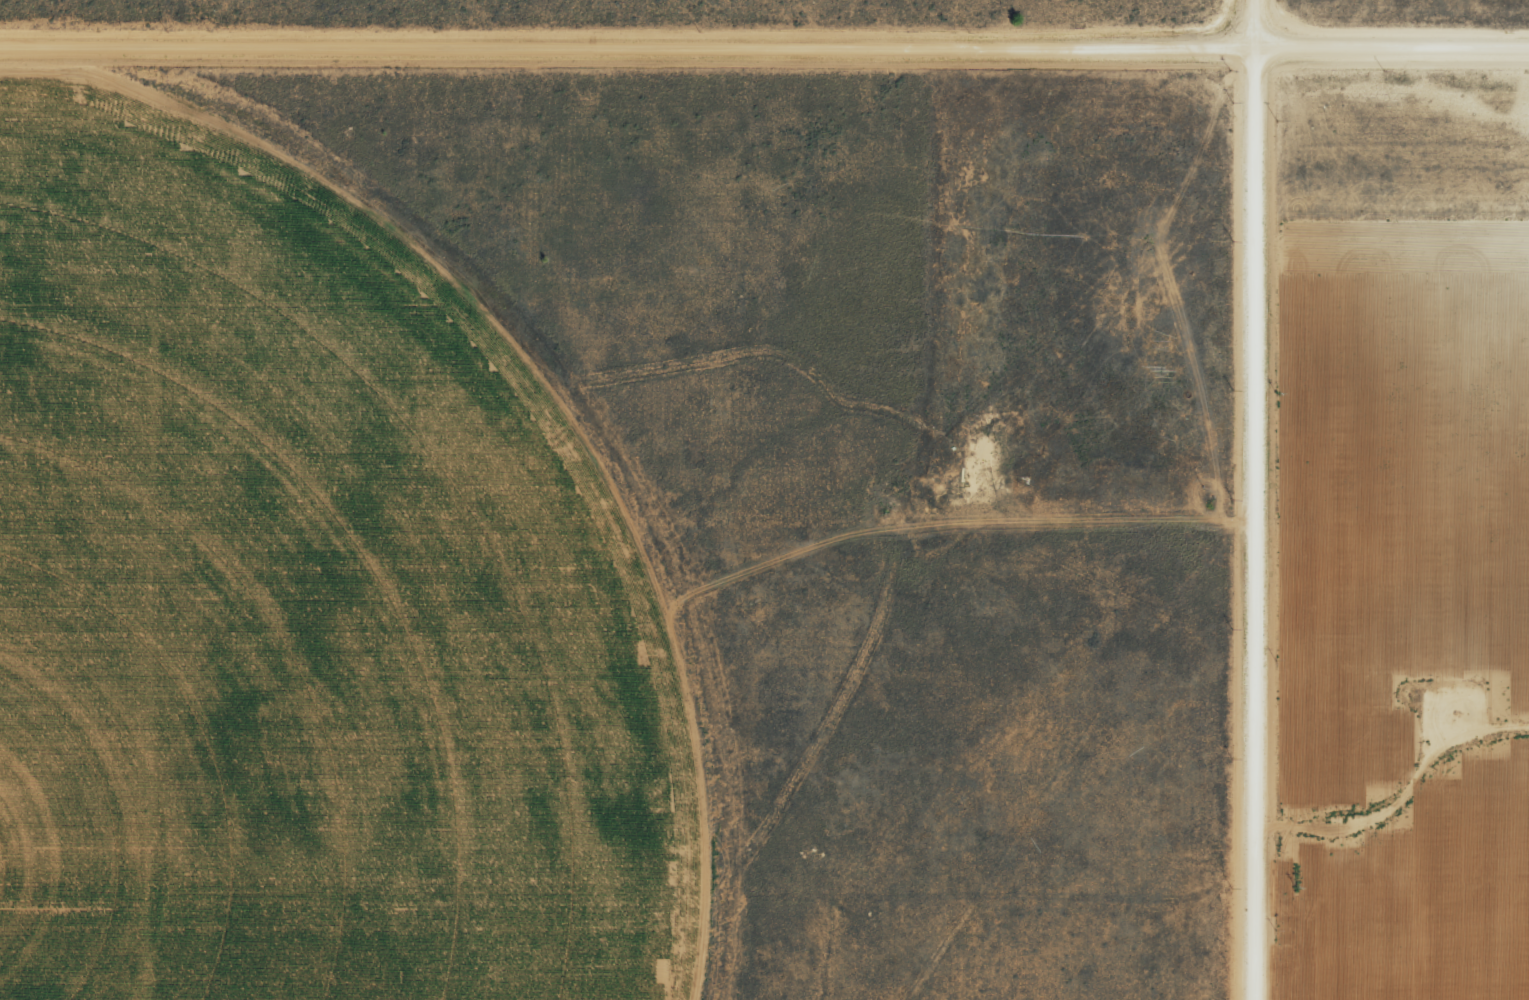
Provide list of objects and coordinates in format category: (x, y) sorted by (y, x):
road: (764, 19)
road: (1265, 499)
road: (151, 511)

